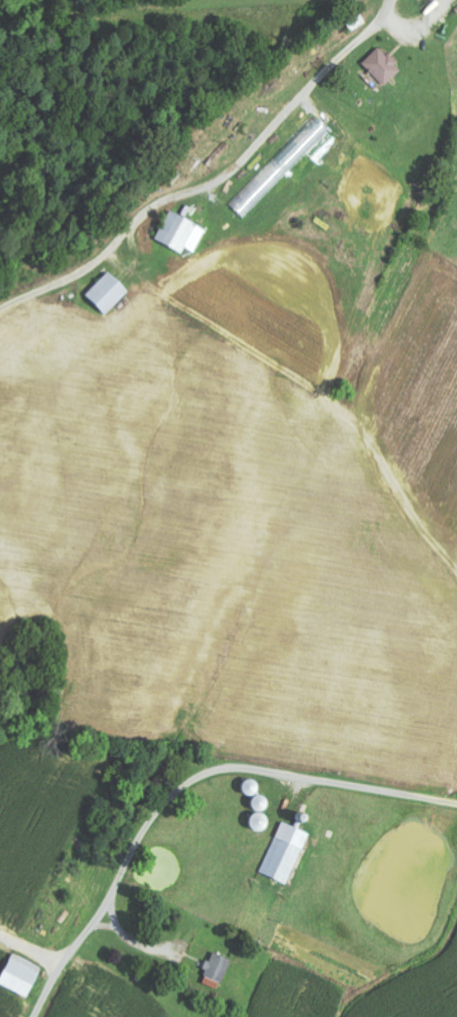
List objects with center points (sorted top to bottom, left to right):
road: (388, 0)
building: (382, 66)
building: (284, 167)
building: (180, 233)
building: (106, 294)
road: (188, 788)
building: (281, 855)
building: (192, 922)
road: (32, 951)
building: (211, 972)
building: (15, 976)

